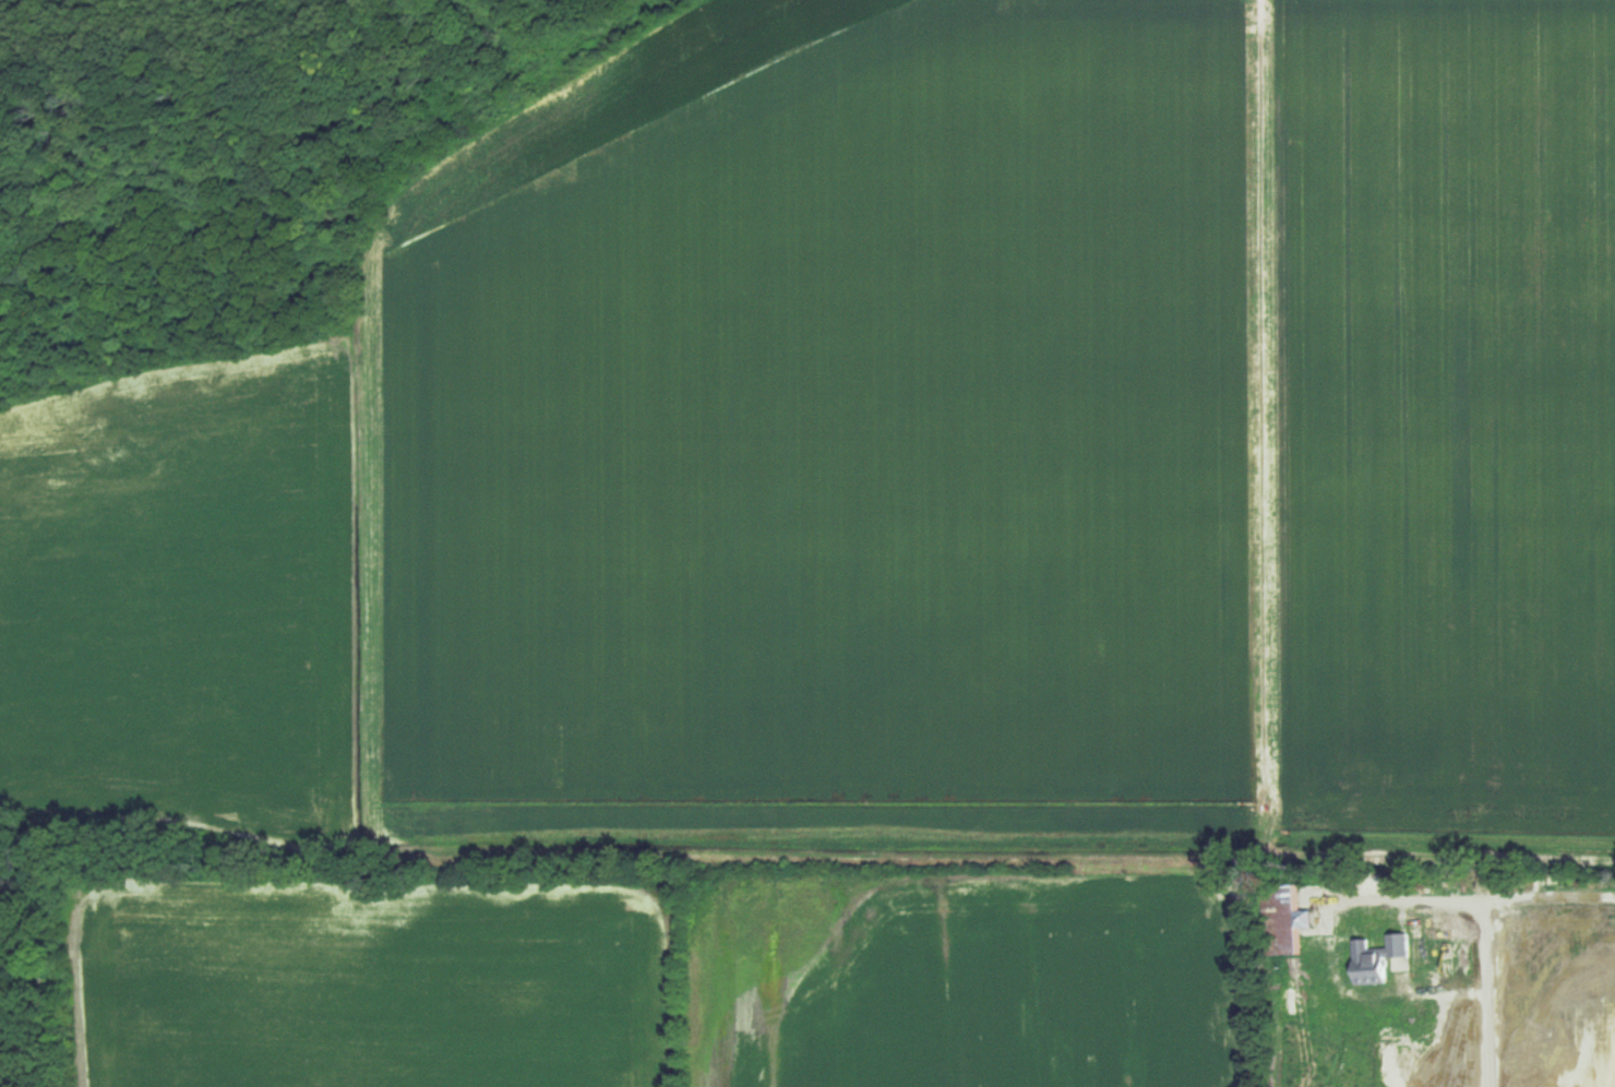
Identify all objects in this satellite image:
road: (1435, 889)
building: (1283, 920)
building: (1379, 958)
road: (1487, 994)

